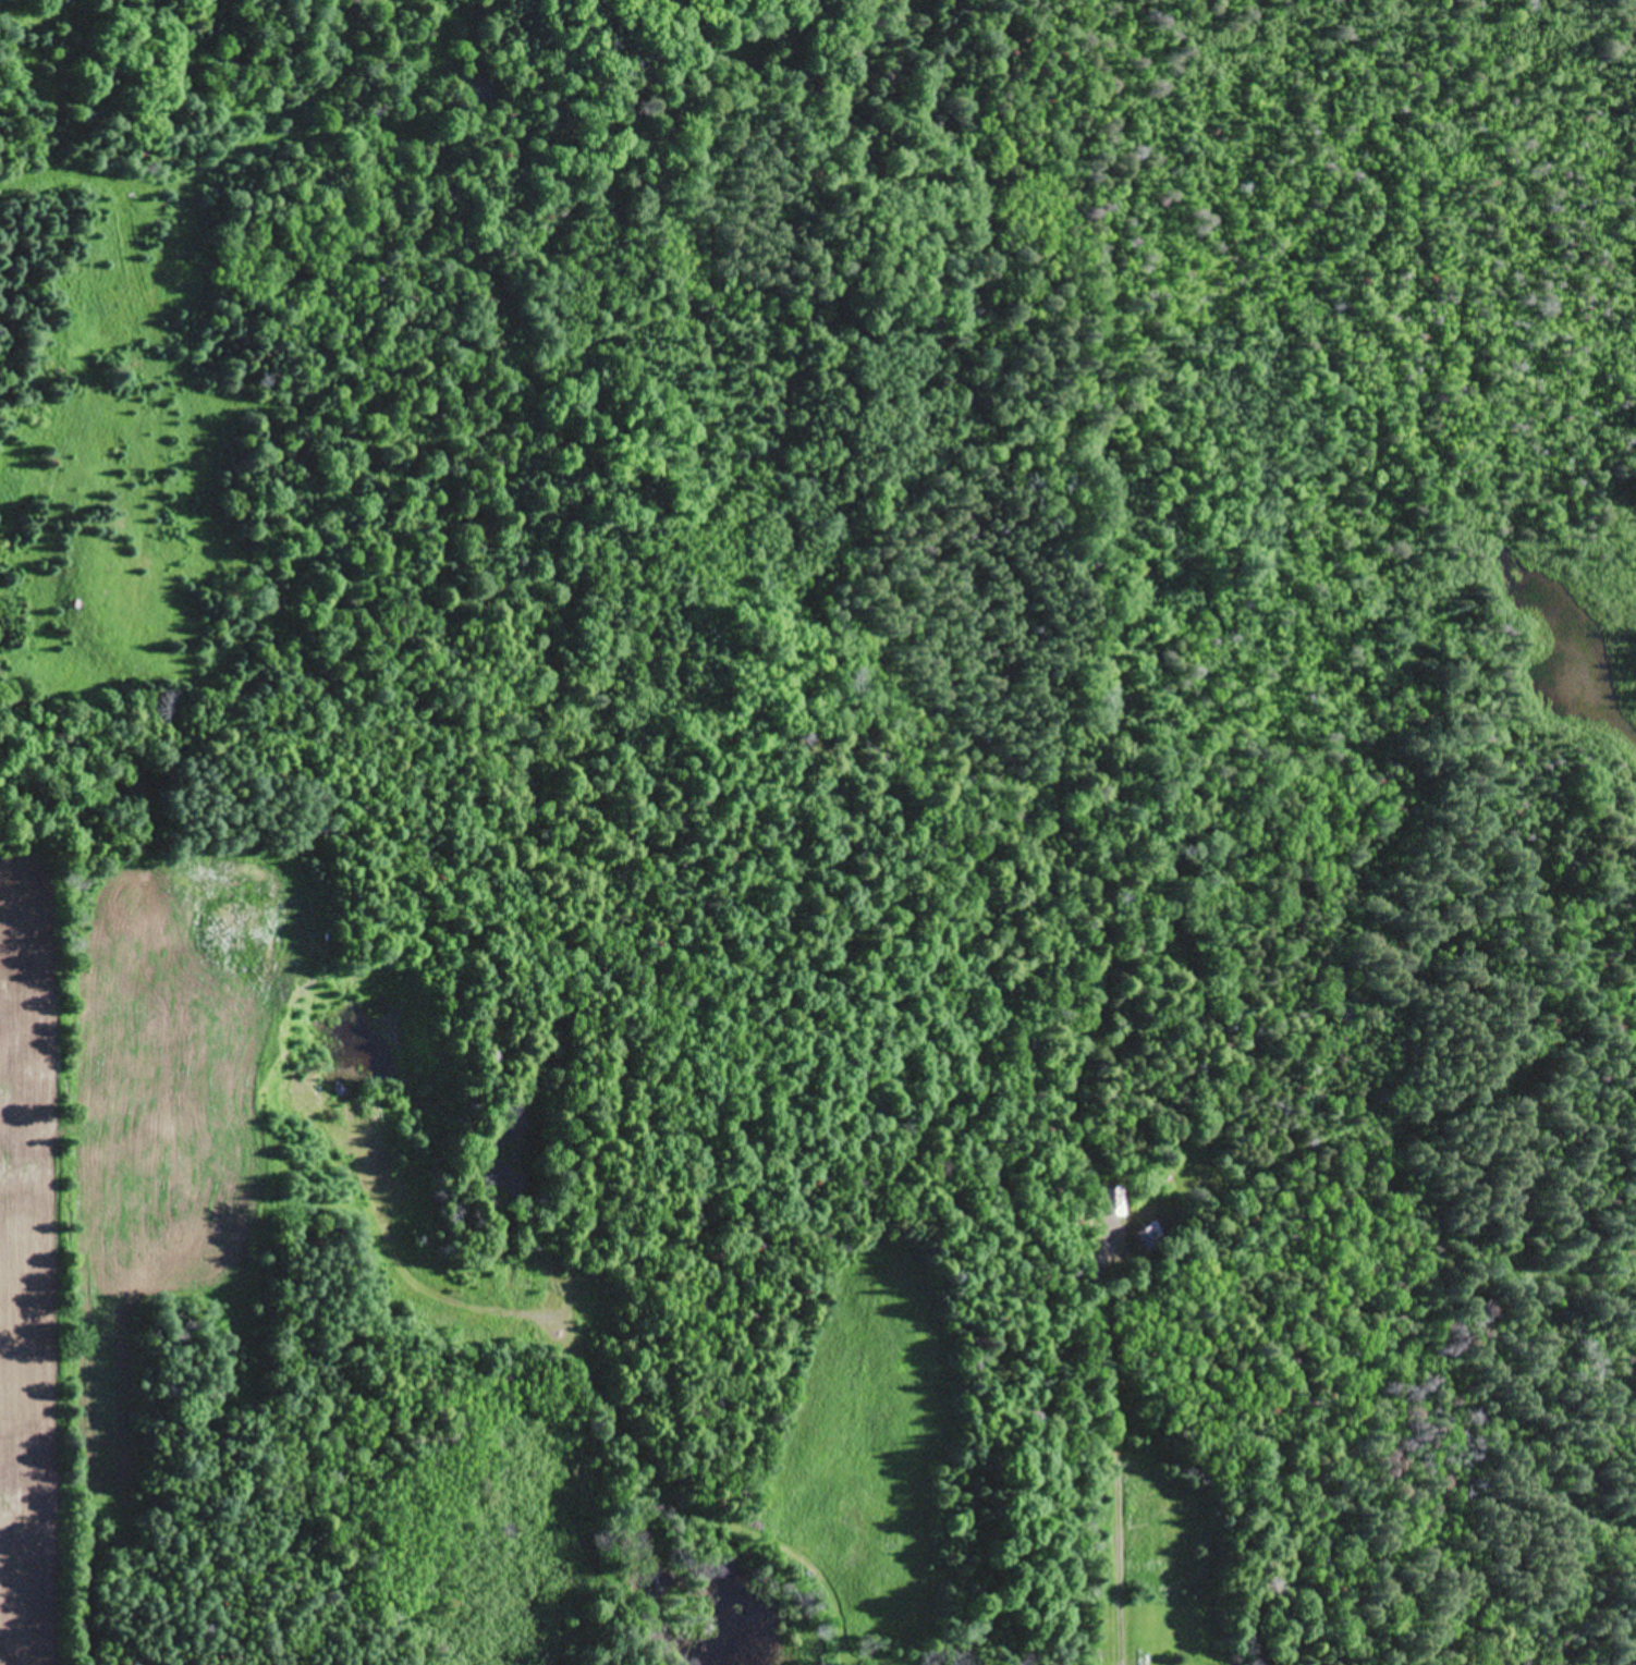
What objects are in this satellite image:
building: (1114, 1177)
building: (1144, 1237)

